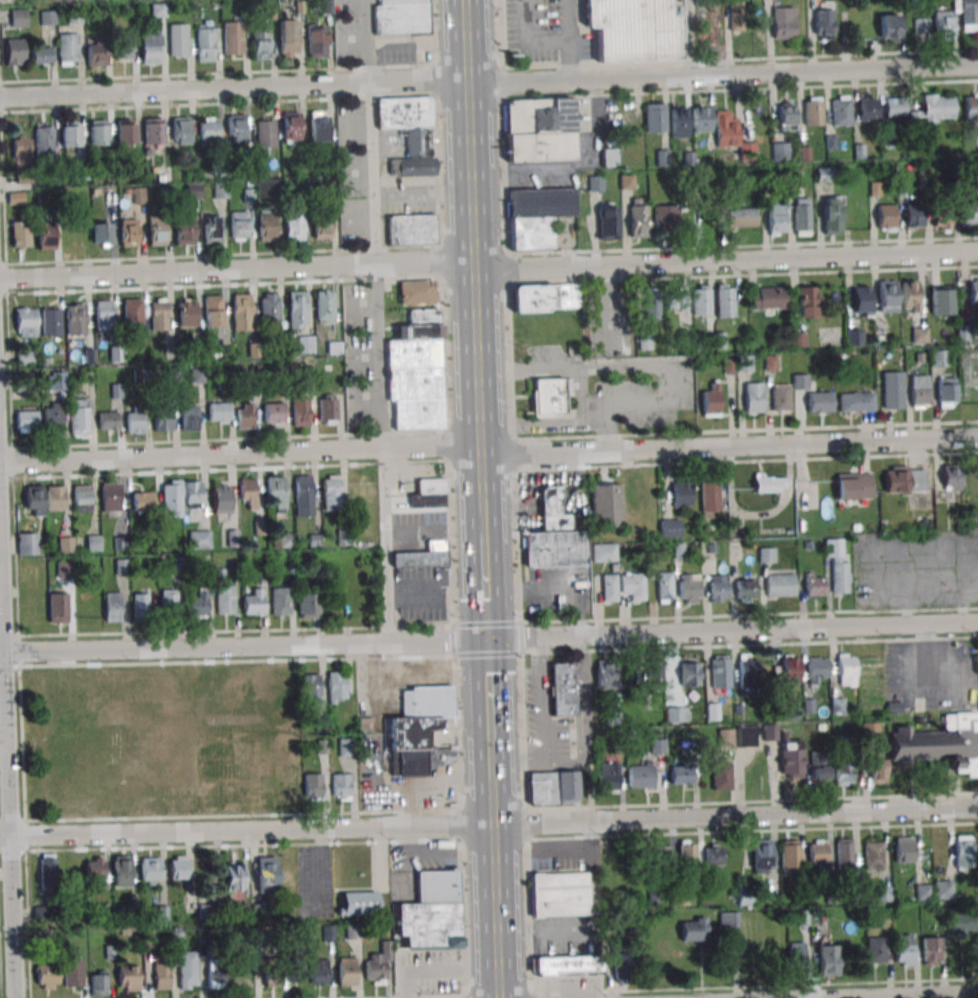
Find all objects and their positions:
building: (158, 10)
building: (736, 10)
building: (969, 15)
building: (47, 17)
building: (401, 17)
building: (18, 18)
building: (783, 22)
building: (823, 24)
building: (943, 26)
building: (889, 28)
building: (922, 29)
building: (634, 30)
building: (707, 35)
road: (688, 37)
building: (233, 38)
building: (288, 38)
road: (568, 39)
building: (178, 40)
building: (260, 43)
building: (123, 44)
building: (206, 44)
building: (151, 46)
building: (316, 46)
building: (68, 48)
building: (14, 52)
building: (96, 53)
building: (41, 55)
road: (489, 81)
building: (971, 106)
building: (895, 107)
building: (865, 108)
building: (936, 109)
building: (840, 110)
building: (812, 111)
building: (785, 115)
building: (655, 117)
building: (700, 118)
building: (678, 122)
building: (291, 126)
building: (318, 126)
building: (235, 128)
building: (181, 130)
building: (209, 130)
building: (540, 130)
building: (125, 131)
building: (730, 131)
building: (98, 132)
building: (70, 133)
building: (153, 133)
building: (265, 133)
building: (409, 133)
building: (44, 140)
building: (21, 146)
building: (780, 151)
building: (609, 157)
building: (662, 157)
building: (823, 173)
building: (268, 188)
building: (220, 190)
building: (192, 191)
building: (137, 195)
building: (16, 197)
road: (423, 202)
building: (832, 215)
building: (913, 215)
building: (969, 215)
building: (538, 216)
building: (666, 216)
building: (801, 216)
building: (742, 217)
building: (885, 217)
building: (638, 218)
building: (775, 219)
building: (607, 221)
building: (941, 221)
building: (294, 224)
building: (239, 225)
building: (266, 225)
building: (184, 229)
building: (211, 229)
building: (322, 229)
building: (411, 230)
building: (128, 232)
building: (157, 232)
building: (100, 233)
building: (20, 234)
building: (45, 236)
road: (489, 262)
road: (474, 266)
building: (973, 291)
building: (417, 292)
building: (887, 296)
building: (909, 296)
building: (545, 298)
building: (767, 298)
building: (940, 299)
building: (675, 300)
building: (700, 300)
building: (724, 300)
building: (860, 301)
building: (807, 302)
building: (269, 306)
building: (324, 306)
building: (651, 306)
building: (297, 310)
building: (213, 311)
building: (103, 312)
building: (131, 312)
building: (187, 312)
building: (242, 312)
building: (158, 314)
building: (75, 318)
road: (378, 320)
building: (26, 322)
building: (51, 322)
building: (919, 335)
building: (645, 340)
building: (305, 344)
building: (939, 358)
road: (651, 366)
road: (529, 369)
building: (416, 371)
building: (799, 381)
building: (57, 382)
building: (892, 390)
building: (919, 391)
building: (945, 392)
building: (549, 397)
building: (754, 397)
building: (781, 397)
building: (712, 400)
building: (818, 402)
building: (856, 402)
building: (328, 407)
building: (301, 411)
building: (219, 413)
building: (274, 414)
building: (79, 416)
building: (245, 416)
building: (190, 417)
building: (52, 418)
building: (26, 420)
building: (108, 420)
building: (163, 420)
building: (135, 421)
road: (558, 421)
road: (489, 445)
building: (951, 477)
building: (904, 479)
building: (770, 482)
building: (853, 486)
building: (248, 491)
building: (276, 492)
building: (331, 492)
building: (681, 492)
building: (193, 494)
building: (428, 494)
building: (303, 496)
building: (110, 497)
building: (55, 498)
building: (82, 498)
building: (171, 498)
building: (221, 498)
building: (710, 499)
building: (34, 500)
building: (143, 501)
building: (606, 505)
building: (552, 509)
building: (670, 528)
building: (199, 539)
building: (283, 540)
building: (27, 543)
building: (65, 544)
building: (553, 549)
building: (604, 552)
building: (766, 555)
building: (423, 556)
building: (838, 565)
building: (64, 569)
building: (780, 584)
building: (814, 584)
road: (485, 585)
building: (633, 585)
building: (609, 587)
building: (664, 587)
building: (689, 588)
building: (718, 588)
building: (745, 588)
building: (225, 599)
building: (169, 601)
building: (254, 601)
building: (280, 601)
building: (310, 603)
building: (198, 604)
building: (58, 607)
building: (112, 607)
building: (140, 607)
road: (489, 638)
traffic signals: (487, 639)
building: (977, 664)
building: (788, 668)
building: (817, 669)
building: (846, 669)
building: (721, 672)
building: (690, 673)
building: (604, 674)
building: (748, 675)
building: (655, 676)
building: (336, 686)
building: (311, 688)
road: (488, 688)
building: (563, 689)
building: (838, 705)
building: (712, 711)
building: (677, 714)
road: (543, 719)
building: (73, 731)
building: (419, 731)
building: (870, 731)
building: (746, 736)
building: (726, 737)
building: (940, 744)
building: (346, 747)
building: (658, 747)
road: (491, 757)
building: (790, 759)
building: (819, 764)
road: (8, 765)
building: (877, 770)
building: (843, 772)
building: (721, 774)
building: (609, 775)
building: (681, 775)
building: (641, 776)
building: (312, 786)
building: (341, 787)
building: (553, 788)
road: (489, 823)
building: (904, 849)
building: (963, 851)
building: (687, 852)
building: (817, 853)
building: (844, 853)
building: (713, 854)
building: (762, 855)
building: (873, 855)
building: (659, 857)
building: (790, 857)
building: (177, 867)
building: (150, 870)
building: (47, 871)
building: (95, 871)
building: (121, 871)
building: (266, 874)
building: (233, 875)
building: (437, 887)
road: (495, 887)
building: (943, 889)
building: (923, 891)
building: (559, 894)
building: (883, 894)
building: (358, 903)
building: (728, 919)
building: (961, 923)
building: (428, 927)
building: (694, 929)
building: (876, 950)
building: (931, 950)
building: (905, 952)
building: (796, 957)
building: (827, 959)
building: (377, 963)
building: (567, 965)
building: (620, 967)
building: (187, 970)
building: (299, 970)
building: (319, 971)
building: (347, 971)
building: (73, 973)
building: (161, 973)
building: (272, 973)
building: (47, 976)
building: (214, 977)
building: (127, 978)
building: (98, 982)
road: (907, 995)

